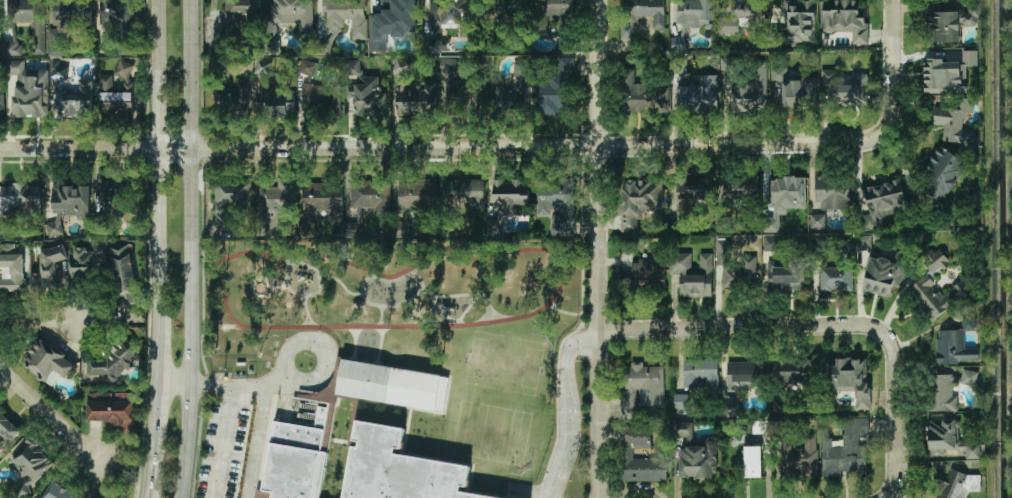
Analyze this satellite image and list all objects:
building: (503, 10)
building: (117, 12)
building: (695, 12)
building: (239, 14)
building: (547, 14)
building: (642, 14)
building: (740, 14)
building: (972, 14)
building: (452, 15)
building: (346, 16)
building: (288, 18)
building: (30, 20)
building: (846, 20)
building: (67, 21)
building: (392, 22)
road: (894, 26)
building: (945, 27)
building: (678, 43)
building: (323, 46)
building: (11, 48)
building: (727, 64)
building: (678, 65)
building: (262, 66)
building: (402, 66)
building: (352, 67)
building: (310, 68)
building: (58, 70)
building: (947, 72)
building: (846, 87)
building: (752, 88)
building: (794, 89)
building: (512, 90)
building: (554, 90)
building: (29, 91)
building: (119, 91)
building: (463, 92)
building: (698, 93)
building: (642, 95)
building: (315, 96)
building: (231, 97)
building: (369, 97)
building: (417, 98)
building: (1, 99)
building: (73, 102)
building: (277, 103)
building: (955, 122)
road: (484, 147)
road: (159, 157)
building: (943, 172)
building: (789, 184)
building: (740, 187)
building: (463, 191)
building: (832, 192)
building: (691, 193)
building: (509, 195)
building: (321, 197)
building: (415, 197)
building: (19, 198)
building: (230, 198)
building: (278, 198)
building: (368, 198)
building: (558, 199)
building: (113, 200)
building: (639, 200)
building: (883, 200)
building: (68, 205)
building: (817, 220)
building: (864, 242)
building: (770, 243)
road: (598, 248)
road: (189, 249)
building: (87, 261)
building: (936, 262)
building: (47, 267)
building: (648, 267)
building: (735, 267)
building: (11, 268)
building: (839, 271)
building: (694, 274)
building: (786, 274)
building: (123, 275)
building: (882, 276)
building: (939, 295)
road: (42, 319)
road: (788, 326)
road: (556, 332)
building: (956, 343)
road: (160, 348)
building: (112, 361)
building: (47, 362)
building: (770, 372)
building: (701, 374)
building: (969, 377)
building: (849, 378)
road: (217, 385)
building: (392, 385)
building: (641, 388)
building: (942, 393)
building: (680, 401)
building: (112, 409)
building: (729, 409)
road: (573, 410)
road: (49, 414)
road: (531, 414)
building: (6, 430)
building: (941, 436)
road: (156, 439)
road: (219, 442)
road: (265, 445)
parking lot: (237, 447)
building: (370, 448)
building: (846, 450)
building: (973, 451)
building: (694, 452)
building: (626, 453)
building: (800, 457)
building: (31, 460)
building: (294, 461)
building: (752, 461)
road: (896, 461)
road: (238, 471)
building: (959, 485)
building: (58, 491)

